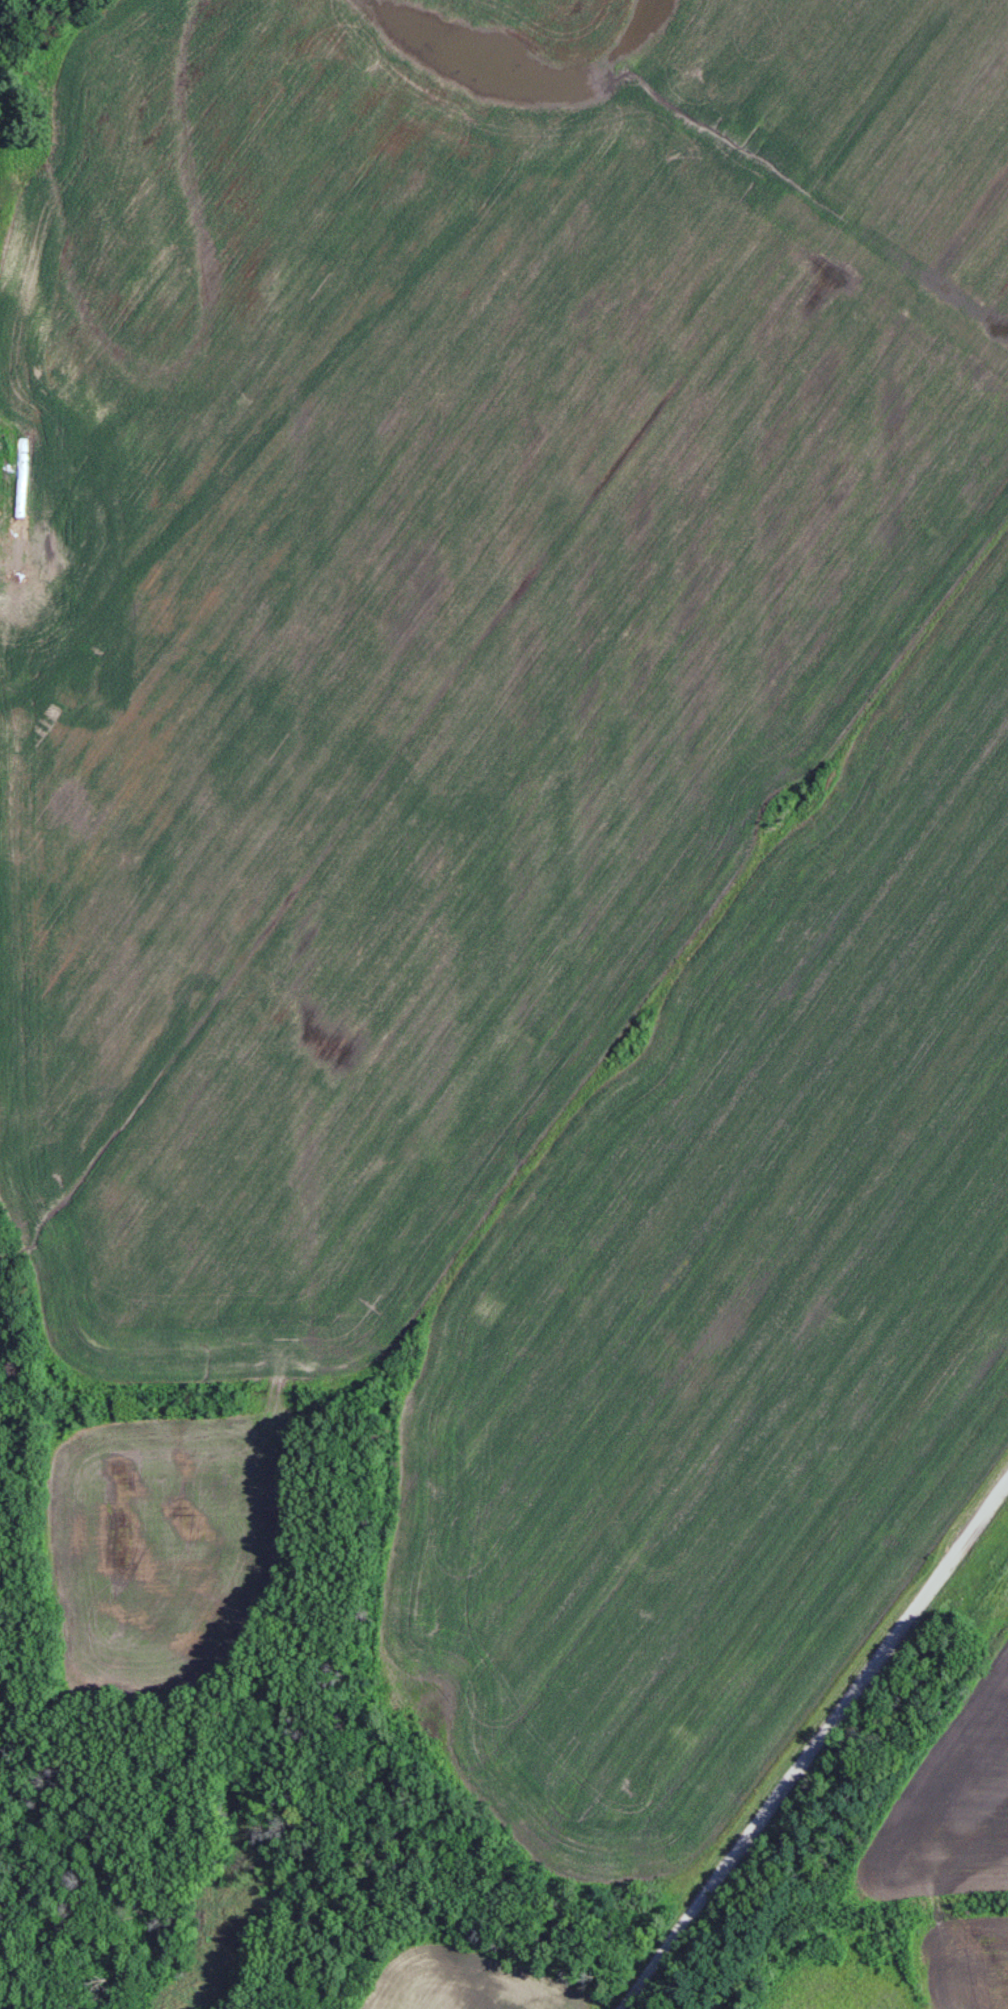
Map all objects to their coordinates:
crop: (440, 597)
crop: (730, 1329)
road: (815, 1744)

